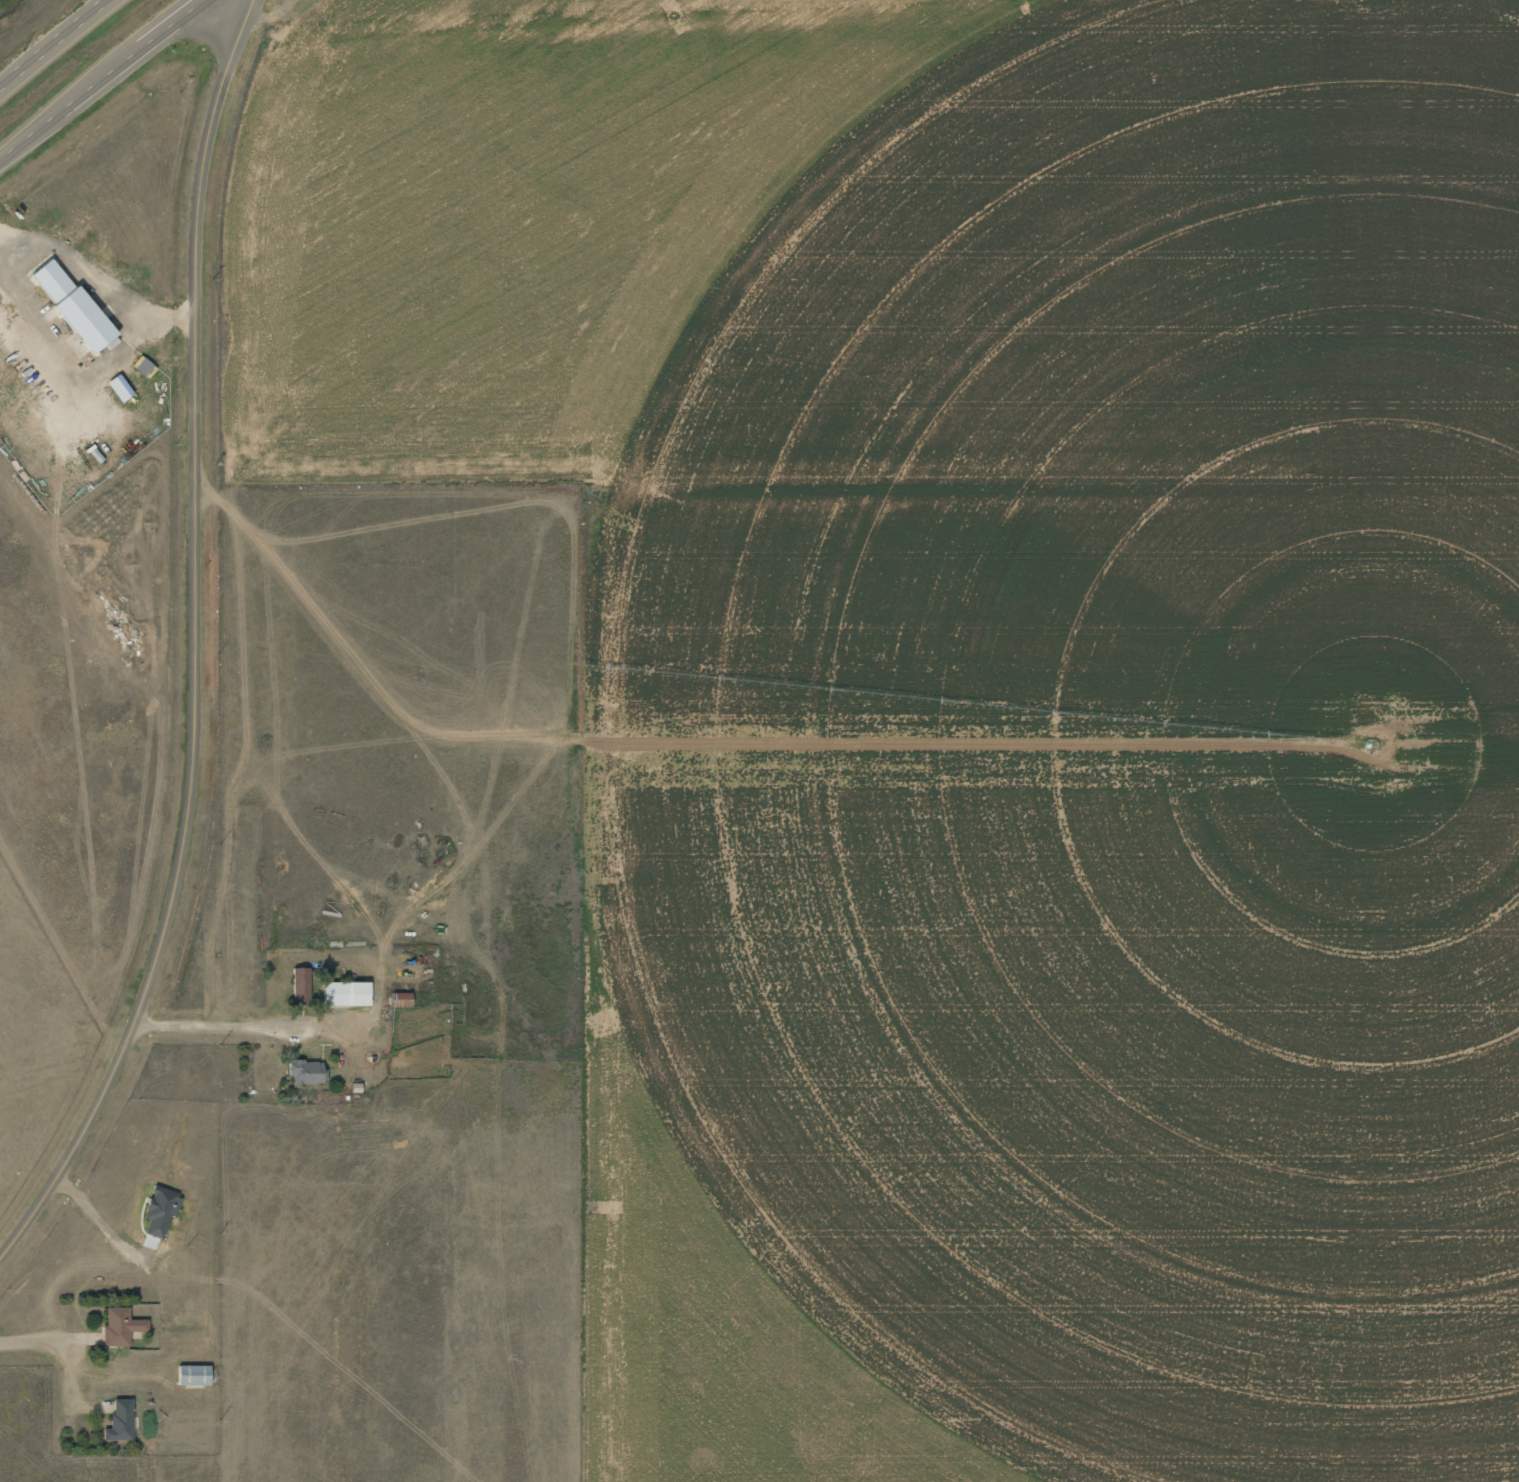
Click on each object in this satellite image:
road: (54, 45)
road: (100, 77)
building: (74, 295)
building: (119, 387)
road: (198, 388)
building: (300, 984)
building: (346, 993)
building: (401, 999)
road: (130, 1035)
building: (307, 1071)
building: (160, 1209)
building: (120, 1325)
building: (193, 1374)
building: (120, 1420)

